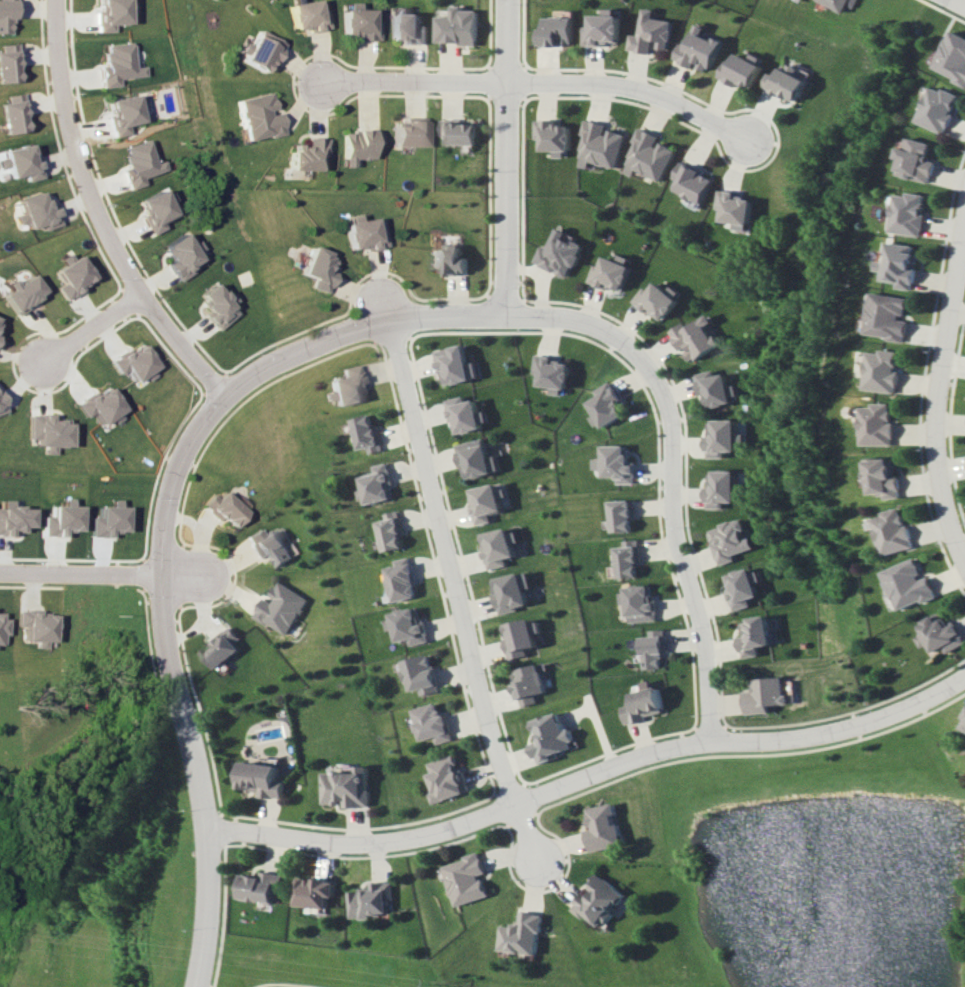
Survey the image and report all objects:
road: (958, 3)
building: (838, 4)
building: (8, 14)
building: (108, 14)
building: (307, 16)
building: (359, 22)
building: (408, 27)
building: (458, 27)
building: (603, 28)
building: (558, 31)
building: (651, 33)
building: (259, 50)
building: (698, 50)
building: (952, 57)
building: (10, 63)
building: (115, 64)
building: (742, 69)
building: (787, 82)
road: (540, 87)
building: (936, 108)
building: (16, 113)
building: (122, 113)
building: (258, 117)
building: (458, 131)
building: (409, 132)
building: (555, 136)
building: (360, 145)
building: (600, 145)
building: (308, 154)
building: (649, 155)
road: (509, 156)
building: (915, 160)
building: (25, 162)
building: (138, 164)
building: (691, 182)
building: (735, 209)
building: (40, 211)
road: (110, 211)
building: (155, 211)
building: (908, 213)
building: (366, 232)
building: (558, 254)
building: (181, 256)
building: (448, 259)
building: (899, 264)
building: (319, 269)
building: (611, 273)
building: (71, 276)
building: (22, 293)
building: (658, 299)
building: (217, 306)
road: (441, 316)
building: (888, 316)
road: (97, 327)
building: (696, 337)
building: (133, 362)
building: (455, 364)
building: (883, 370)
building: (553, 373)
road: (942, 377)
building: (349, 386)
building: (715, 388)
building: (99, 405)
building: (2, 406)
building: (605, 406)
building: (466, 414)
building: (878, 425)
building: (47, 431)
building: (363, 434)
building: (720, 438)
building: (477, 458)
building: (613, 463)
building: (884, 477)
building: (374, 484)
building: (720, 489)
building: (486, 503)
building: (228, 508)
building: (618, 515)
building: (11, 518)
building: (57, 519)
building: (105, 519)
building: (387, 531)
building: (894, 531)
building: (729, 541)
building: (270, 546)
road: (682, 546)
building: (499, 547)
building: (623, 558)
road: (80, 575)
road: (187, 578)
building: (398, 580)
building: (909, 584)
building: (744, 587)
road: (452, 592)
building: (510, 592)
building: (637, 603)
building: (278, 608)
building: (1, 626)
building: (34, 626)
building: (408, 626)
building: (940, 635)
building: (756, 636)
building: (519, 637)
building: (219, 648)
building: (652, 649)
road: (172, 674)
building: (418, 674)
building: (528, 684)
building: (767, 695)
building: (644, 703)
building: (432, 723)
building: (962, 723)
building: (551, 738)
road: (587, 774)
building: (261, 779)
building: (448, 779)
building: (347, 788)
building: (603, 827)
building: (466, 879)
building: (259, 886)
building: (314, 892)
building: (372, 900)
building: (598, 900)
building: (521, 934)
road: (277, 985)

